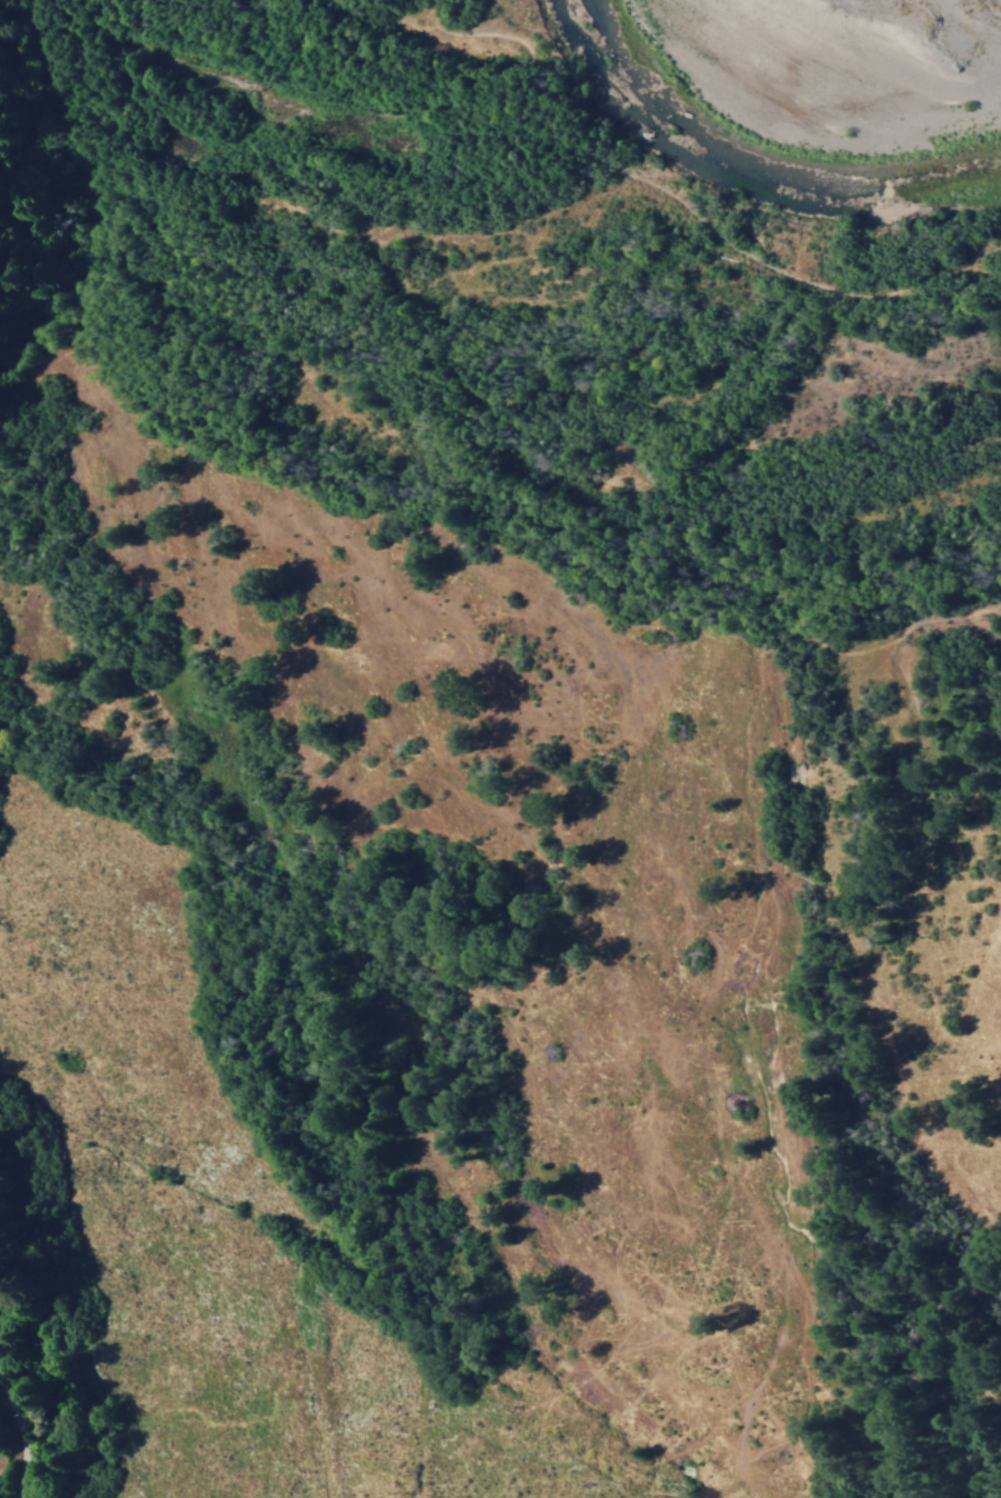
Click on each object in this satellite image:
river: (983, 24)

